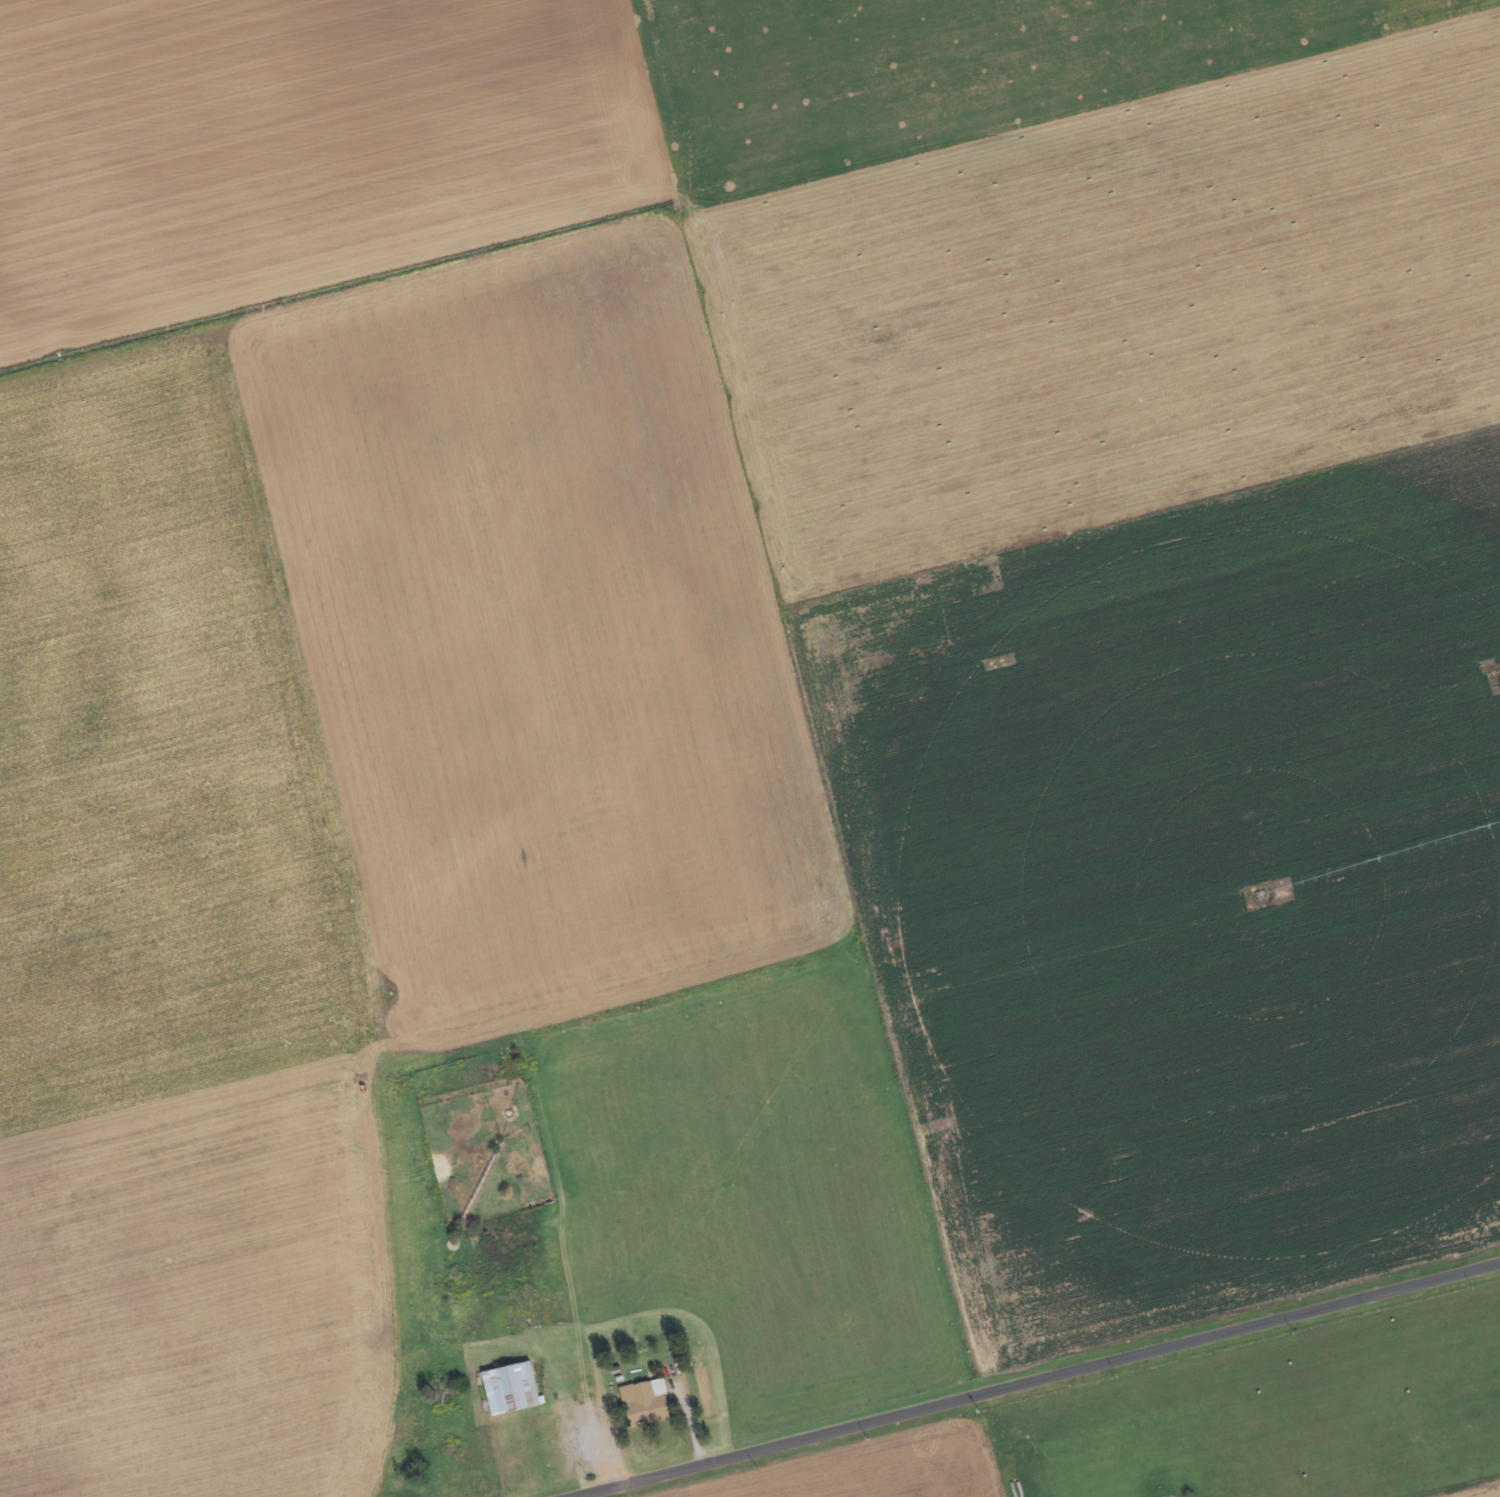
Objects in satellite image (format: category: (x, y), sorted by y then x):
road: (1038, 1380)
building: (516, 1391)
building: (648, 1404)

